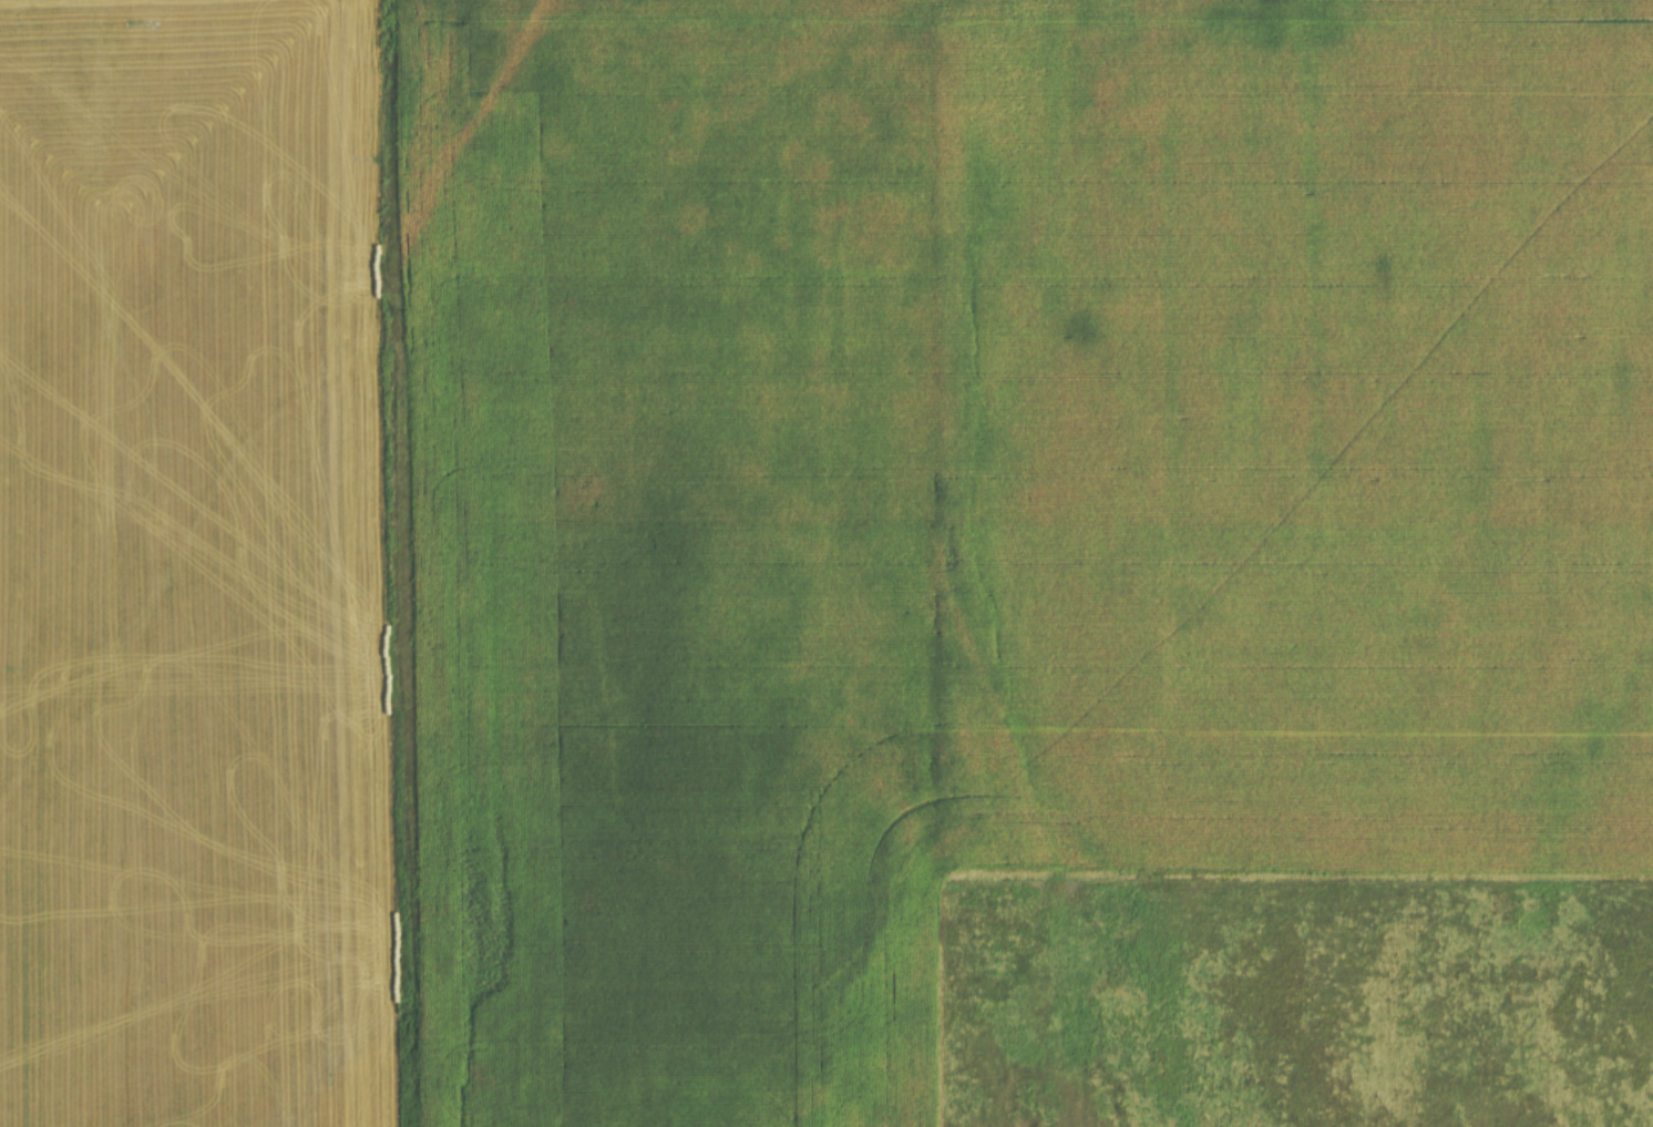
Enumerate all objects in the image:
building: (1068, 434)

